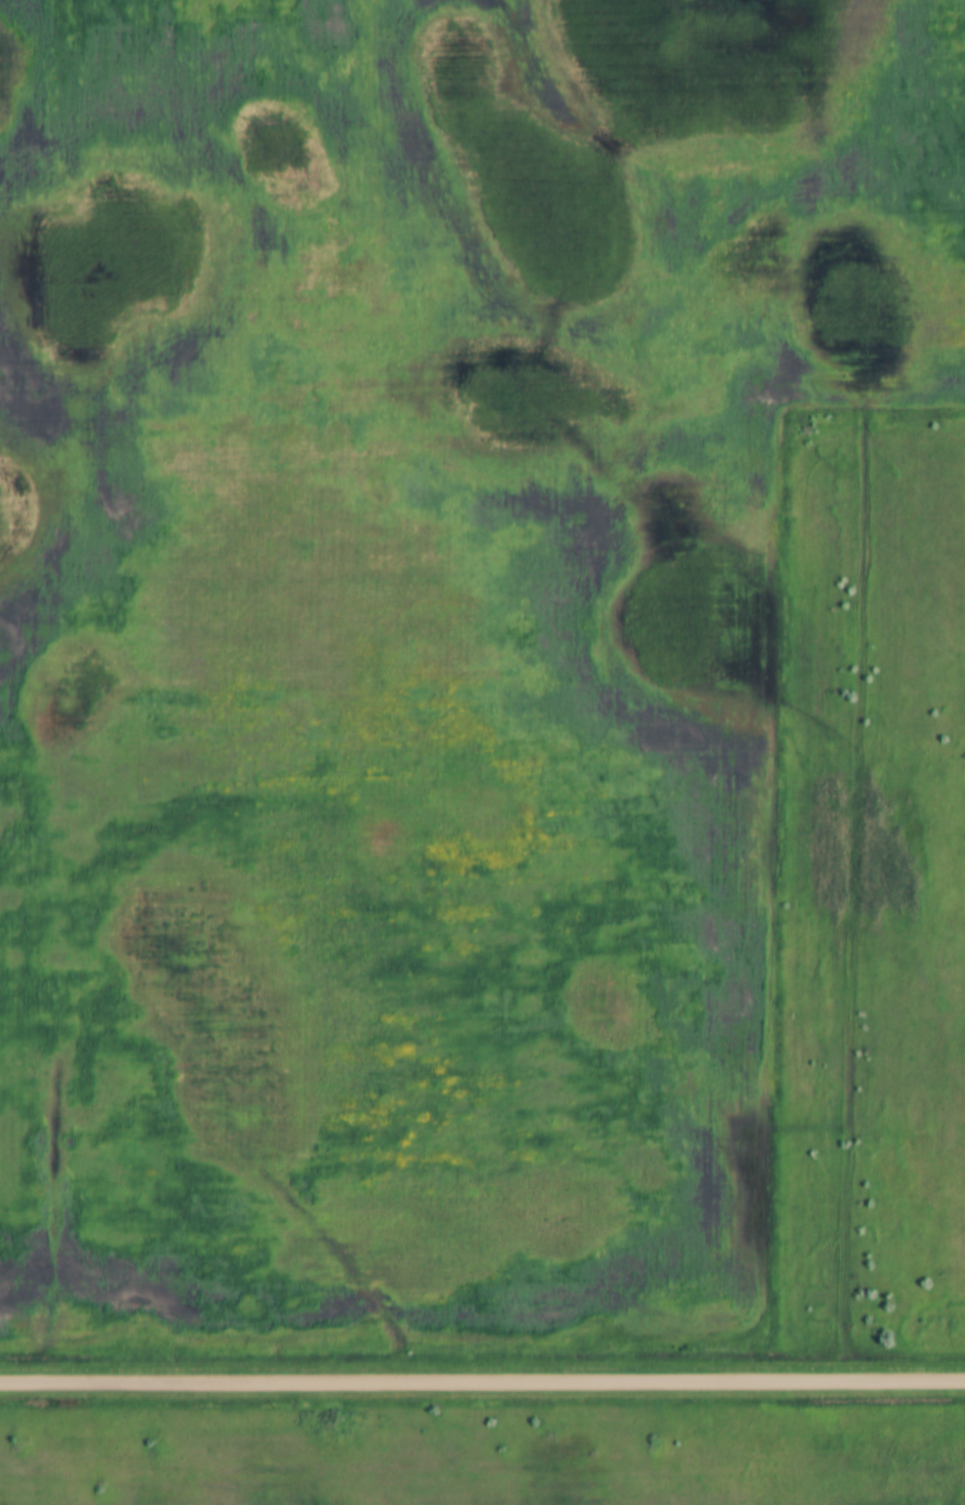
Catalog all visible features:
road: (482, 1384)

